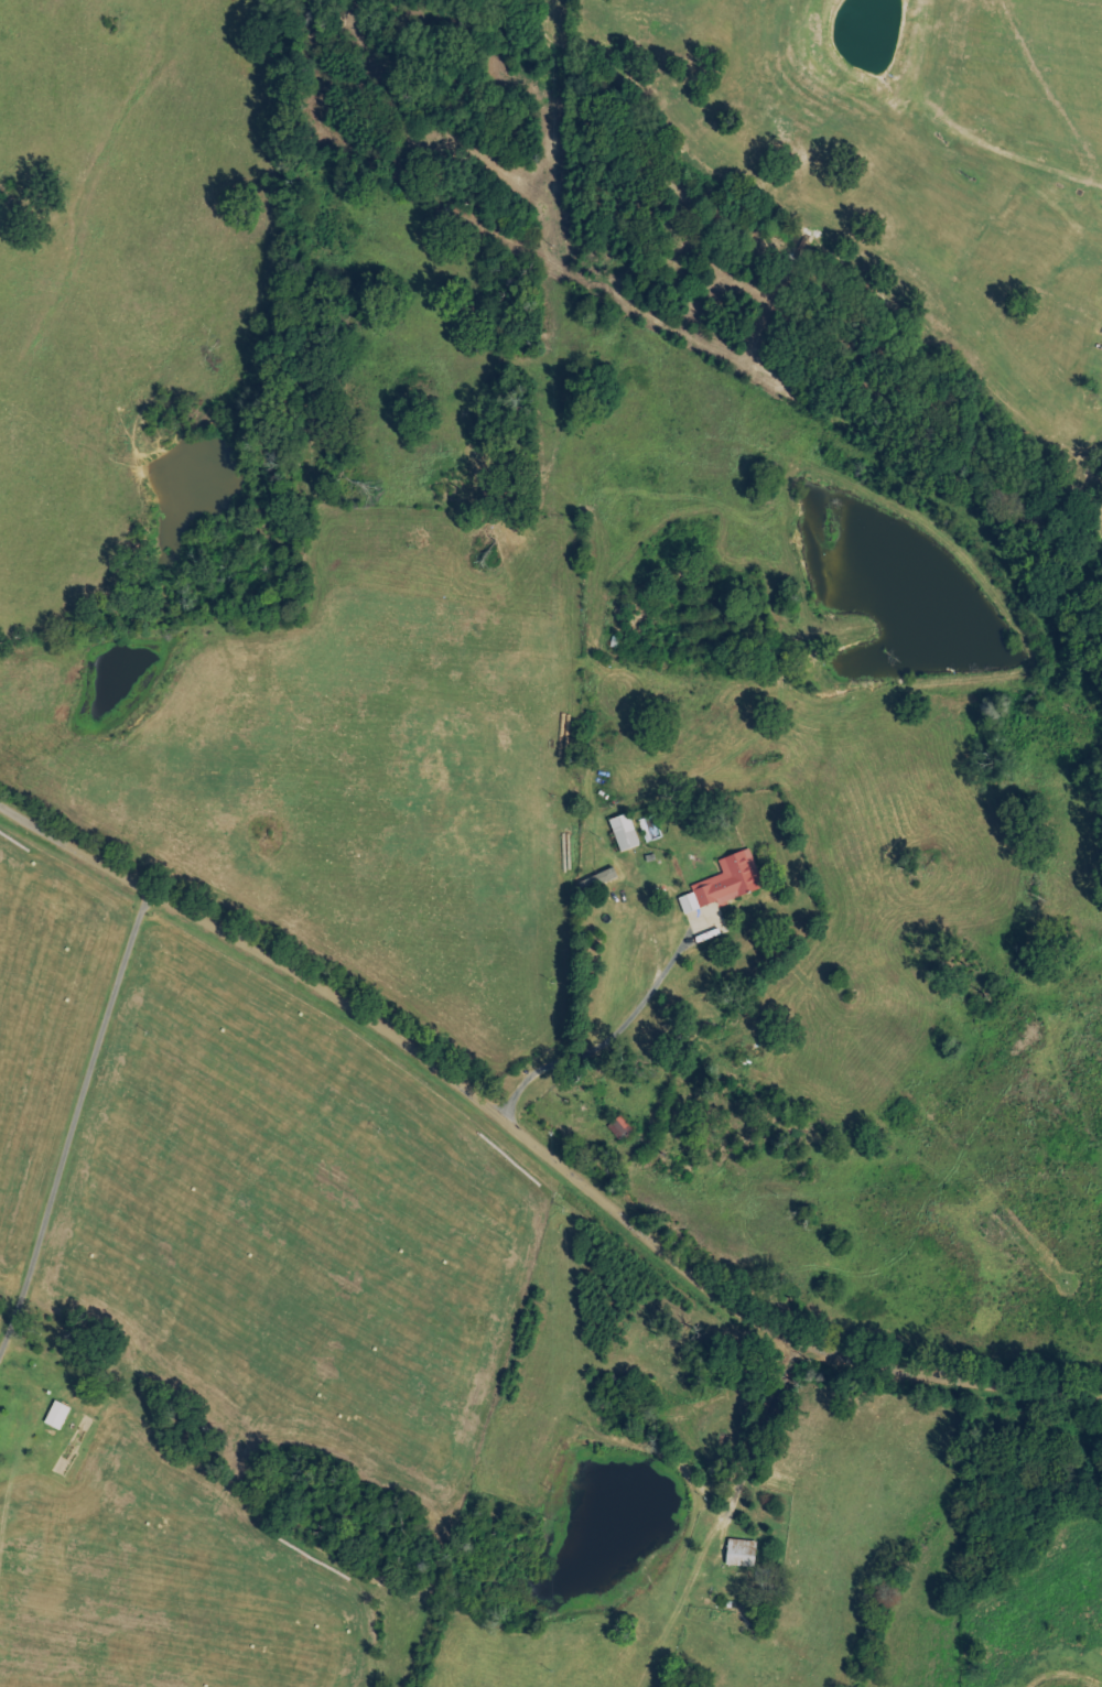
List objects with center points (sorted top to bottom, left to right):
building: (623, 833)
building: (723, 884)
road: (616, 1039)
road: (77, 1123)
road: (540, 1146)
building: (55, 1415)
road: (753, 1443)
building: (739, 1553)

